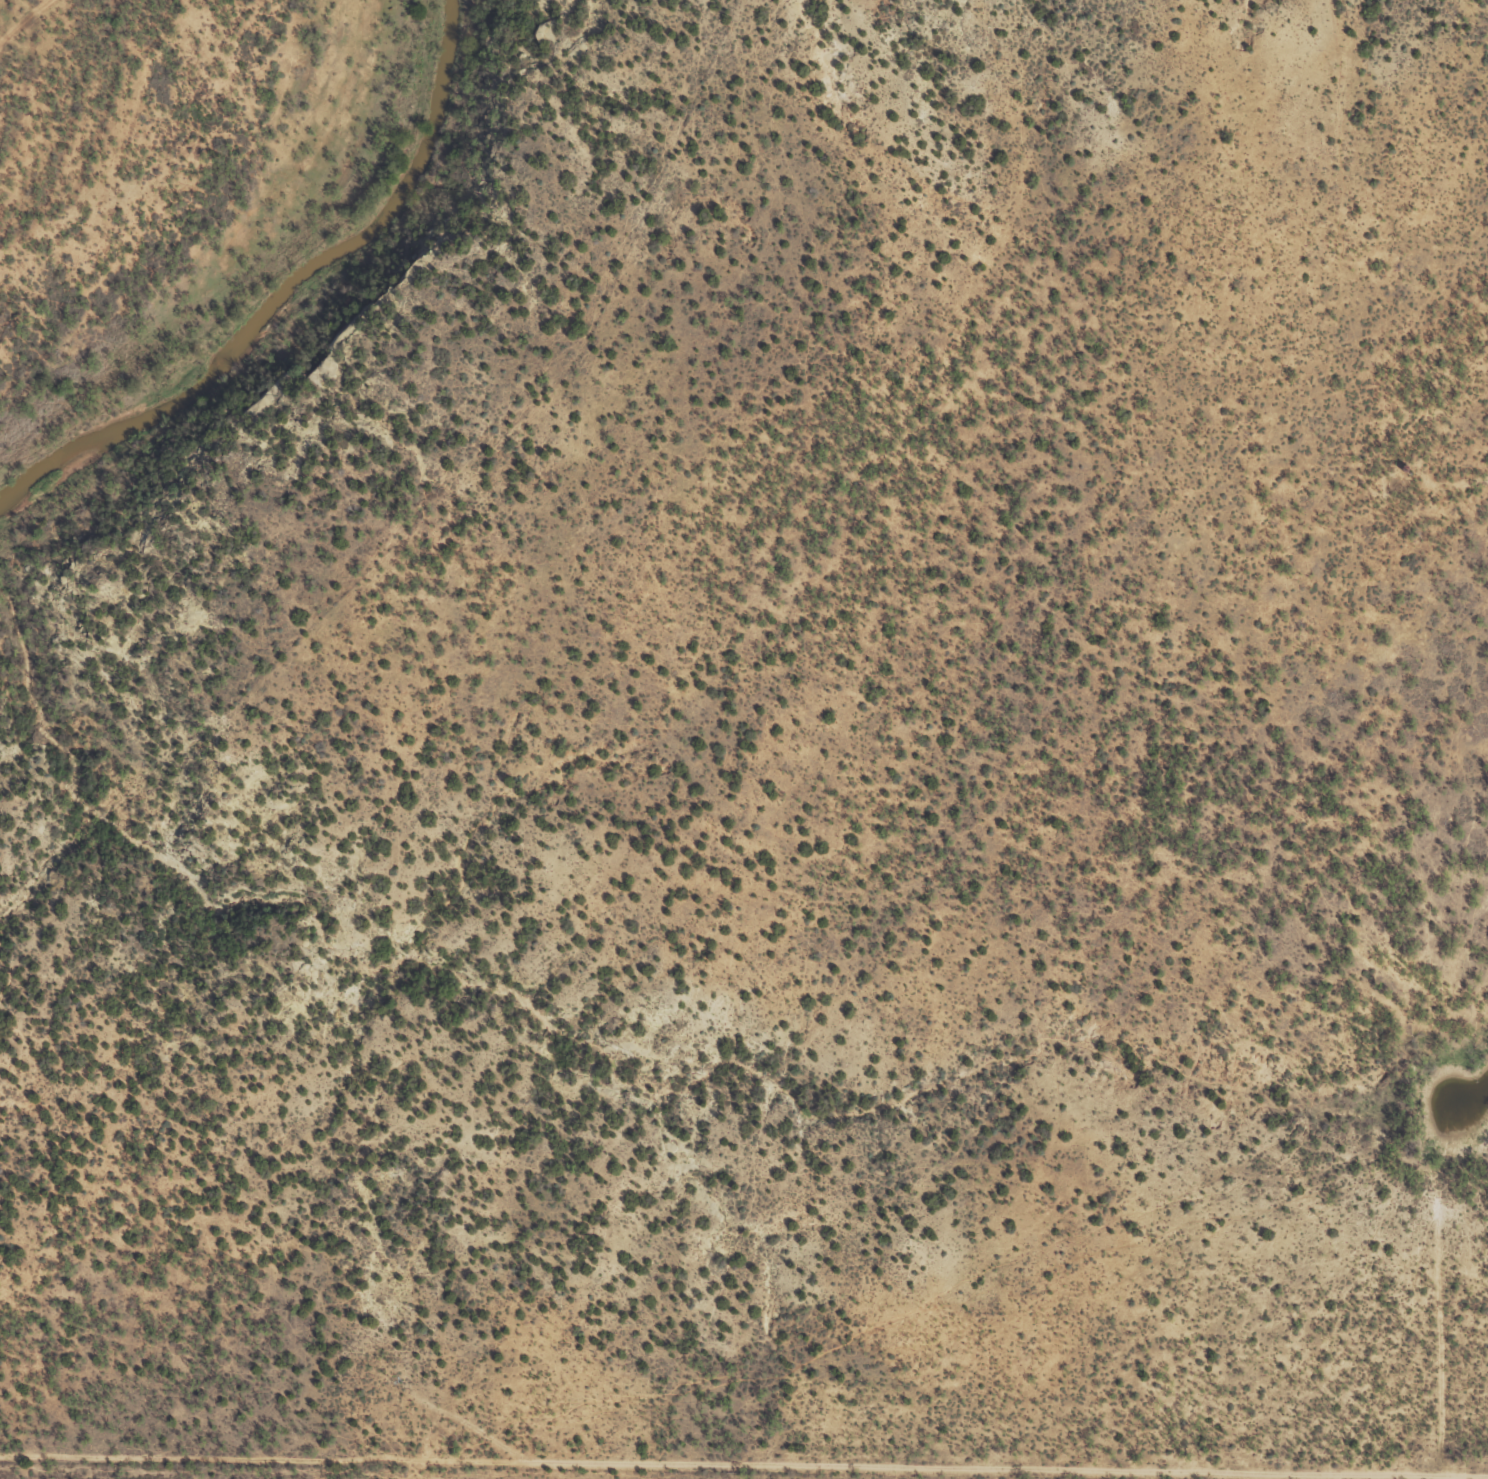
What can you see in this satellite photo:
river: (288, 291)
road: (394, 1458)

